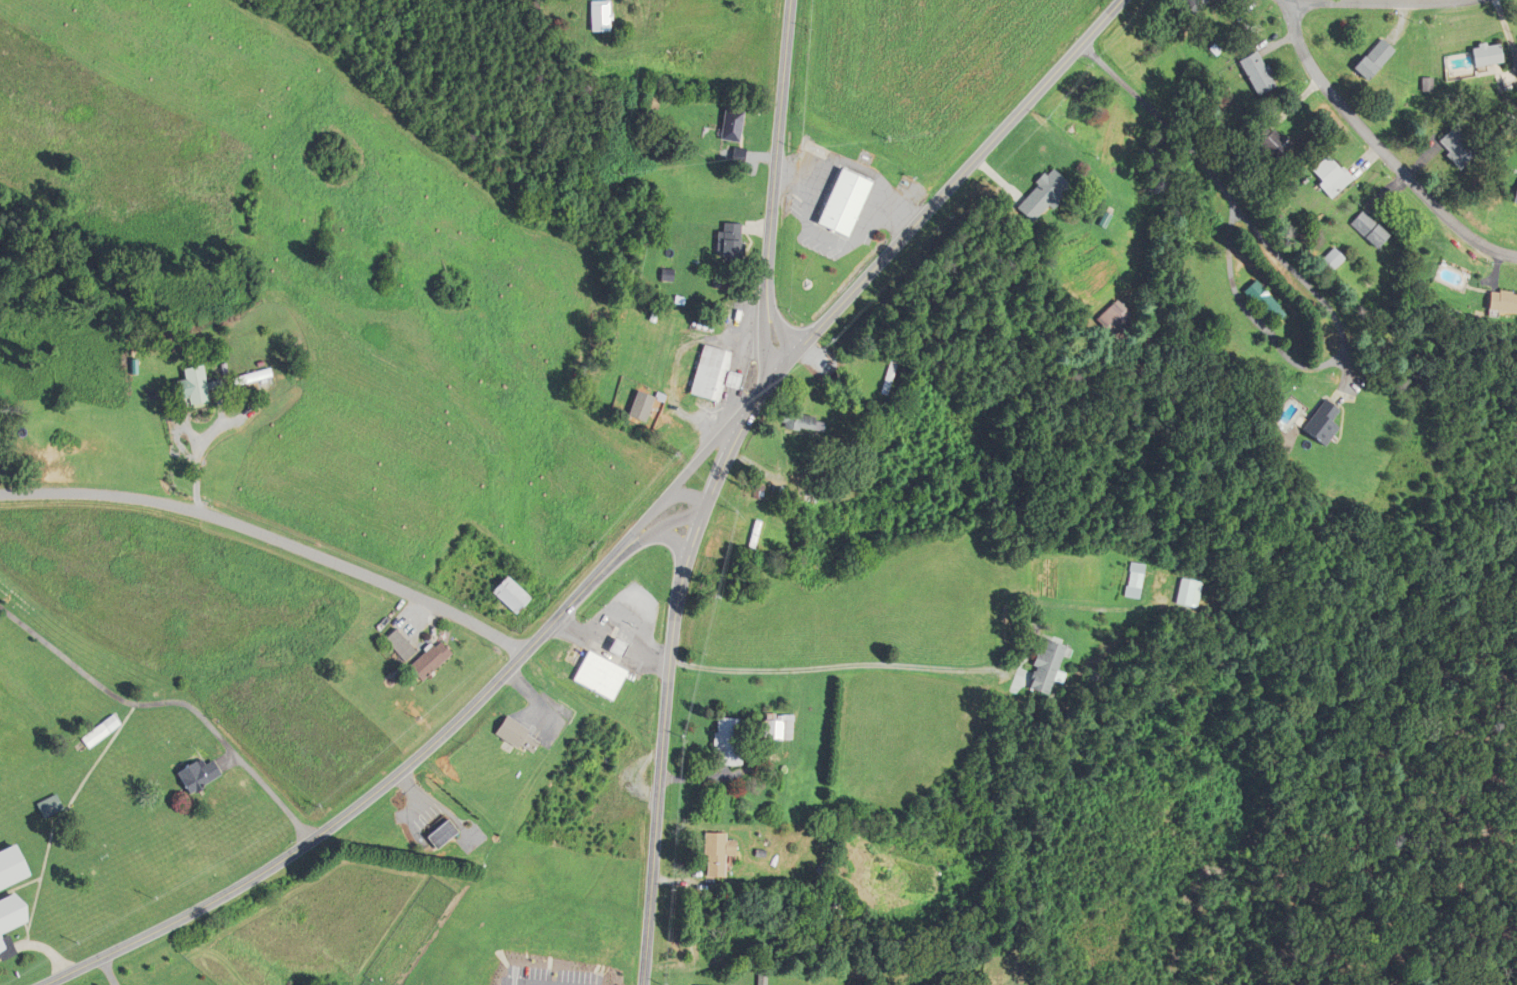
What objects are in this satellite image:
road: (1380, 3)
building: (1193, 5)
building: (598, 17)
building: (1487, 55)
building: (1377, 59)
building: (1256, 73)
building: (733, 125)
building: (1270, 142)
building: (1461, 147)
road: (1380, 148)
building: (1330, 177)
building: (1043, 195)
building: (1516, 200)
building: (845, 203)
road: (772, 206)
building: (1370, 229)
building: (1336, 259)
road: (1303, 279)
building: (1270, 301)
building: (1503, 301)
building: (1119, 317)
building: (710, 373)
building: (898, 376)
building: (249, 377)
building: (190, 386)
building: (807, 421)
building: (1325, 425)
road: (746, 427)
road: (196, 440)
building: (794, 501)
building: (745, 534)
road: (275, 538)
building: (1140, 581)
building: (1191, 593)
building: (513, 595)
road: (620, 635)
building: (403, 646)
building: (618, 647)
road: (839, 666)
building: (1052, 668)
building: (604, 677)
road: (170, 703)
building: (780, 727)
building: (515, 732)
building: (728, 742)
road: (436, 750)
building: (606, 767)
building: (198, 774)
building: (442, 834)
building: (721, 854)
building: (9, 919)
road: (107, 970)

